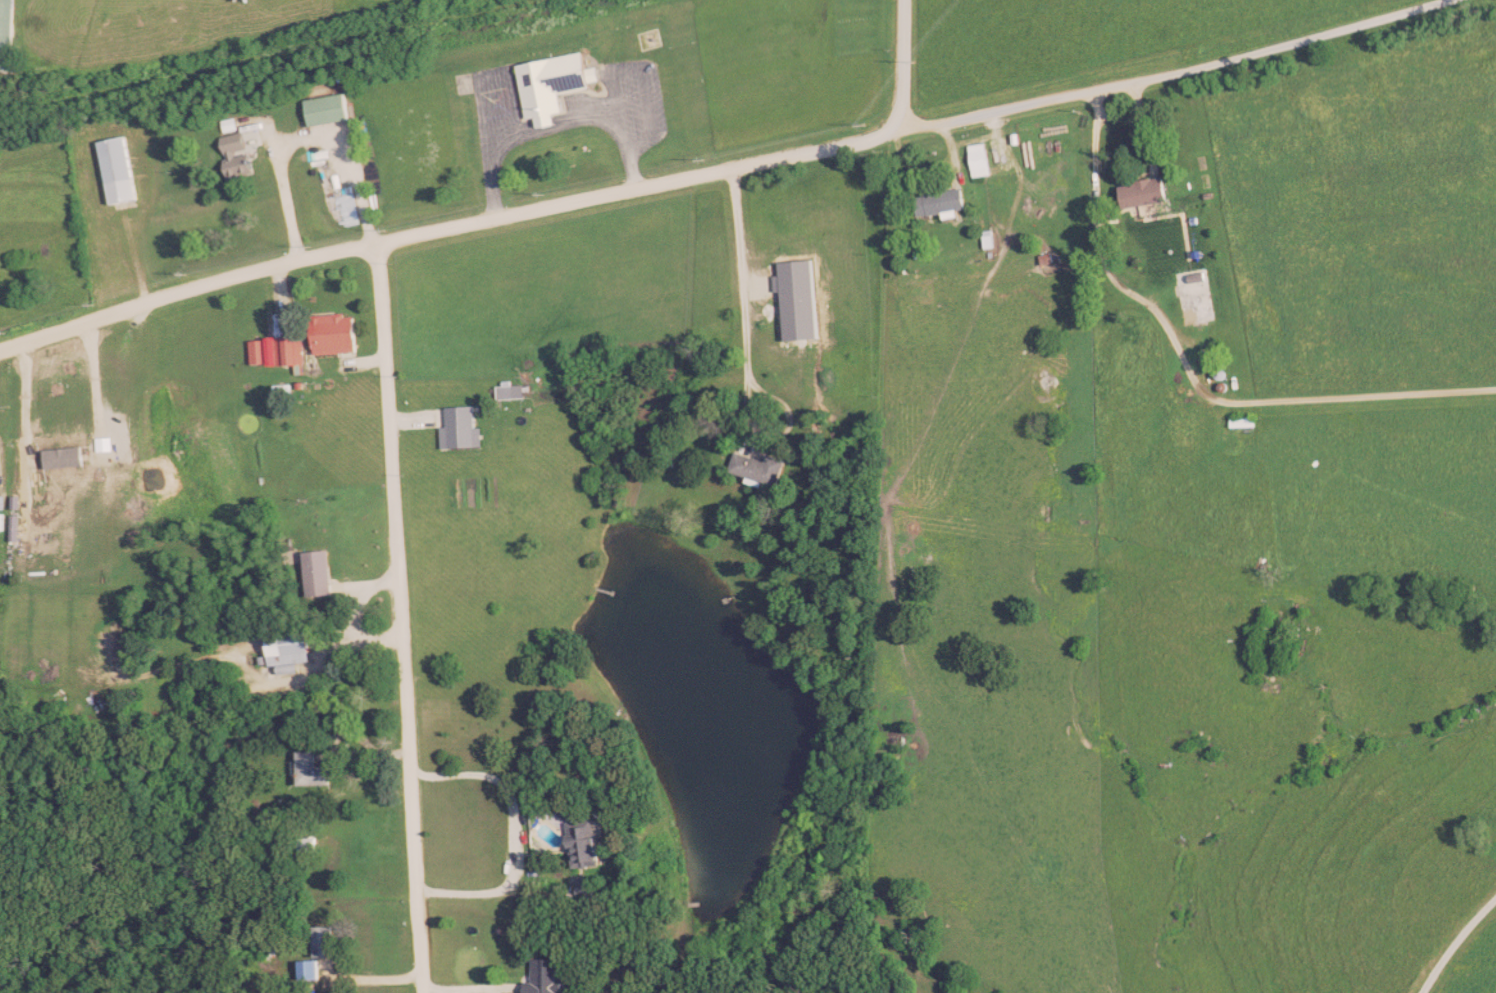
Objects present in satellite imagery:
building: (7, 35)
building: (554, 85)
building: (328, 109)
building: (237, 154)
building: (982, 160)
road: (719, 169)
building: (122, 172)
building: (1147, 193)
building: (948, 201)
road: (736, 265)
building: (1198, 296)
building: (337, 333)
building: (291, 351)
road: (1188, 374)
building: (1243, 420)
building: (460, 427)
building: (760, 467)
building: (2, 521)
building: (321, 572)
road: (402, 617)
building: (291, 646)
building: (314, 769)
road: (511, 834)
building: (587, 841)
road: (1452, 939)
building: (327, 940)
building: (545, 976)
road: (367, 978)
road: (468, 987)

